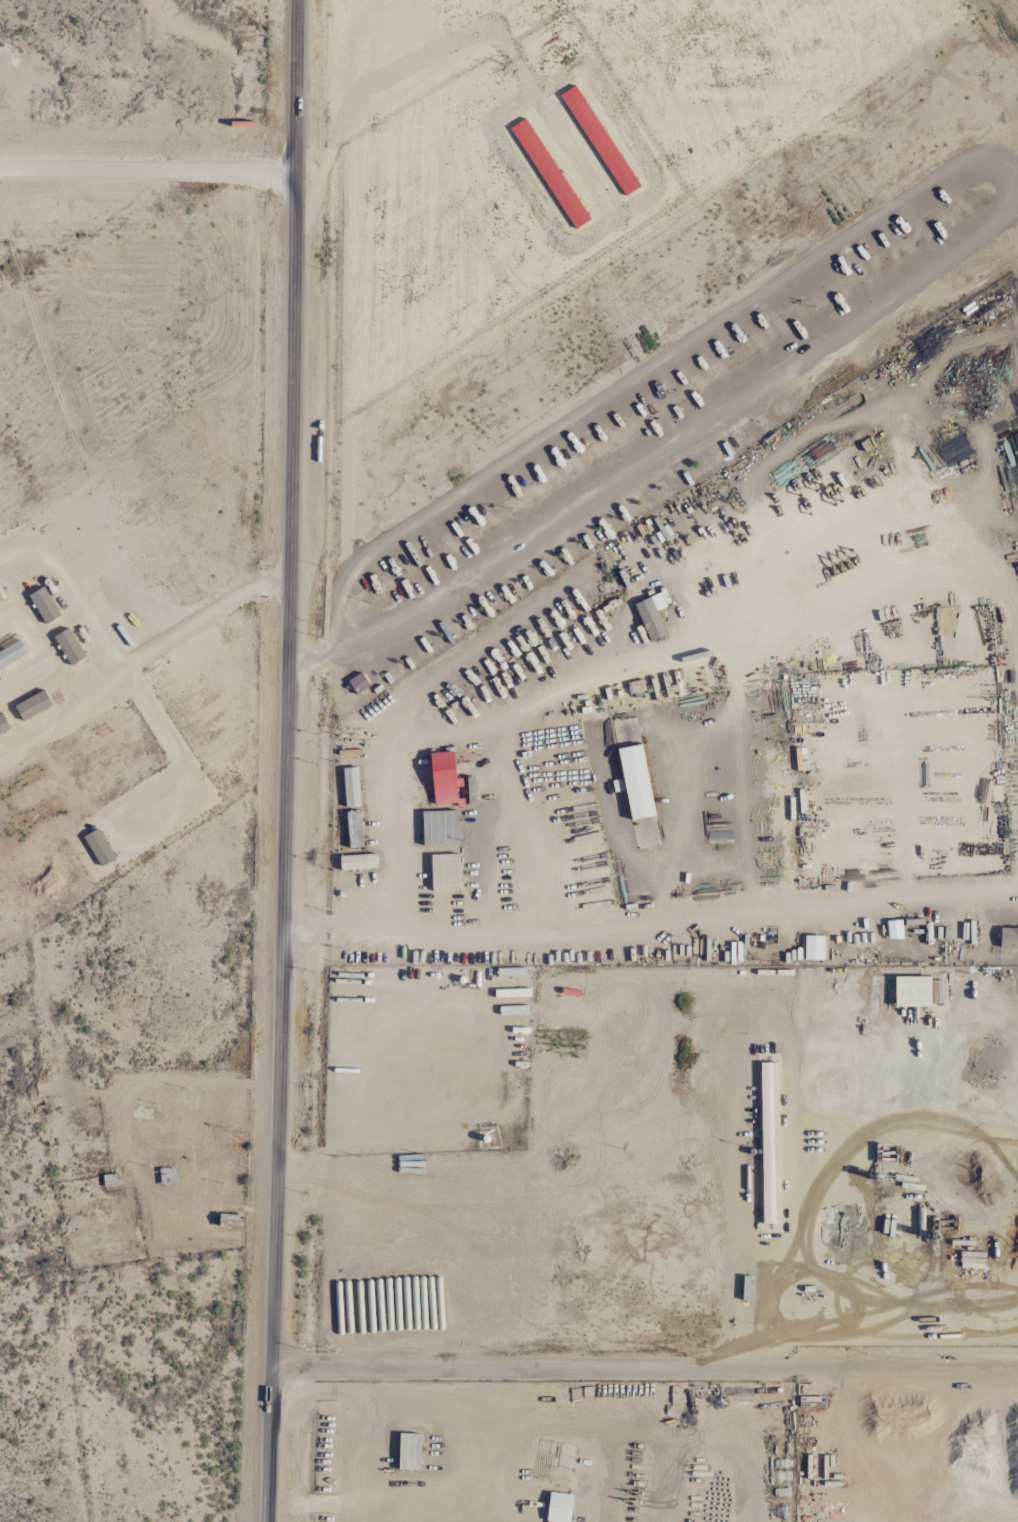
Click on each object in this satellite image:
building: (599, 141)
road: (147, 172)
building: (549, 174)
road: (1006, 185)
building: (43, 605)
building: (650, 617)
building: (67, 646)
building: (10, 653)
building: (32, 706)
building: (3, 724)
road: (285, 761)
building: (633, 783)
building: (98, 847)
building: (356, 862)
road: (646, 926)
building: (813, 948)
building: (767, 1096)
building: (166, 1175)
road: (642, 1369)
building: (557, 1508)

